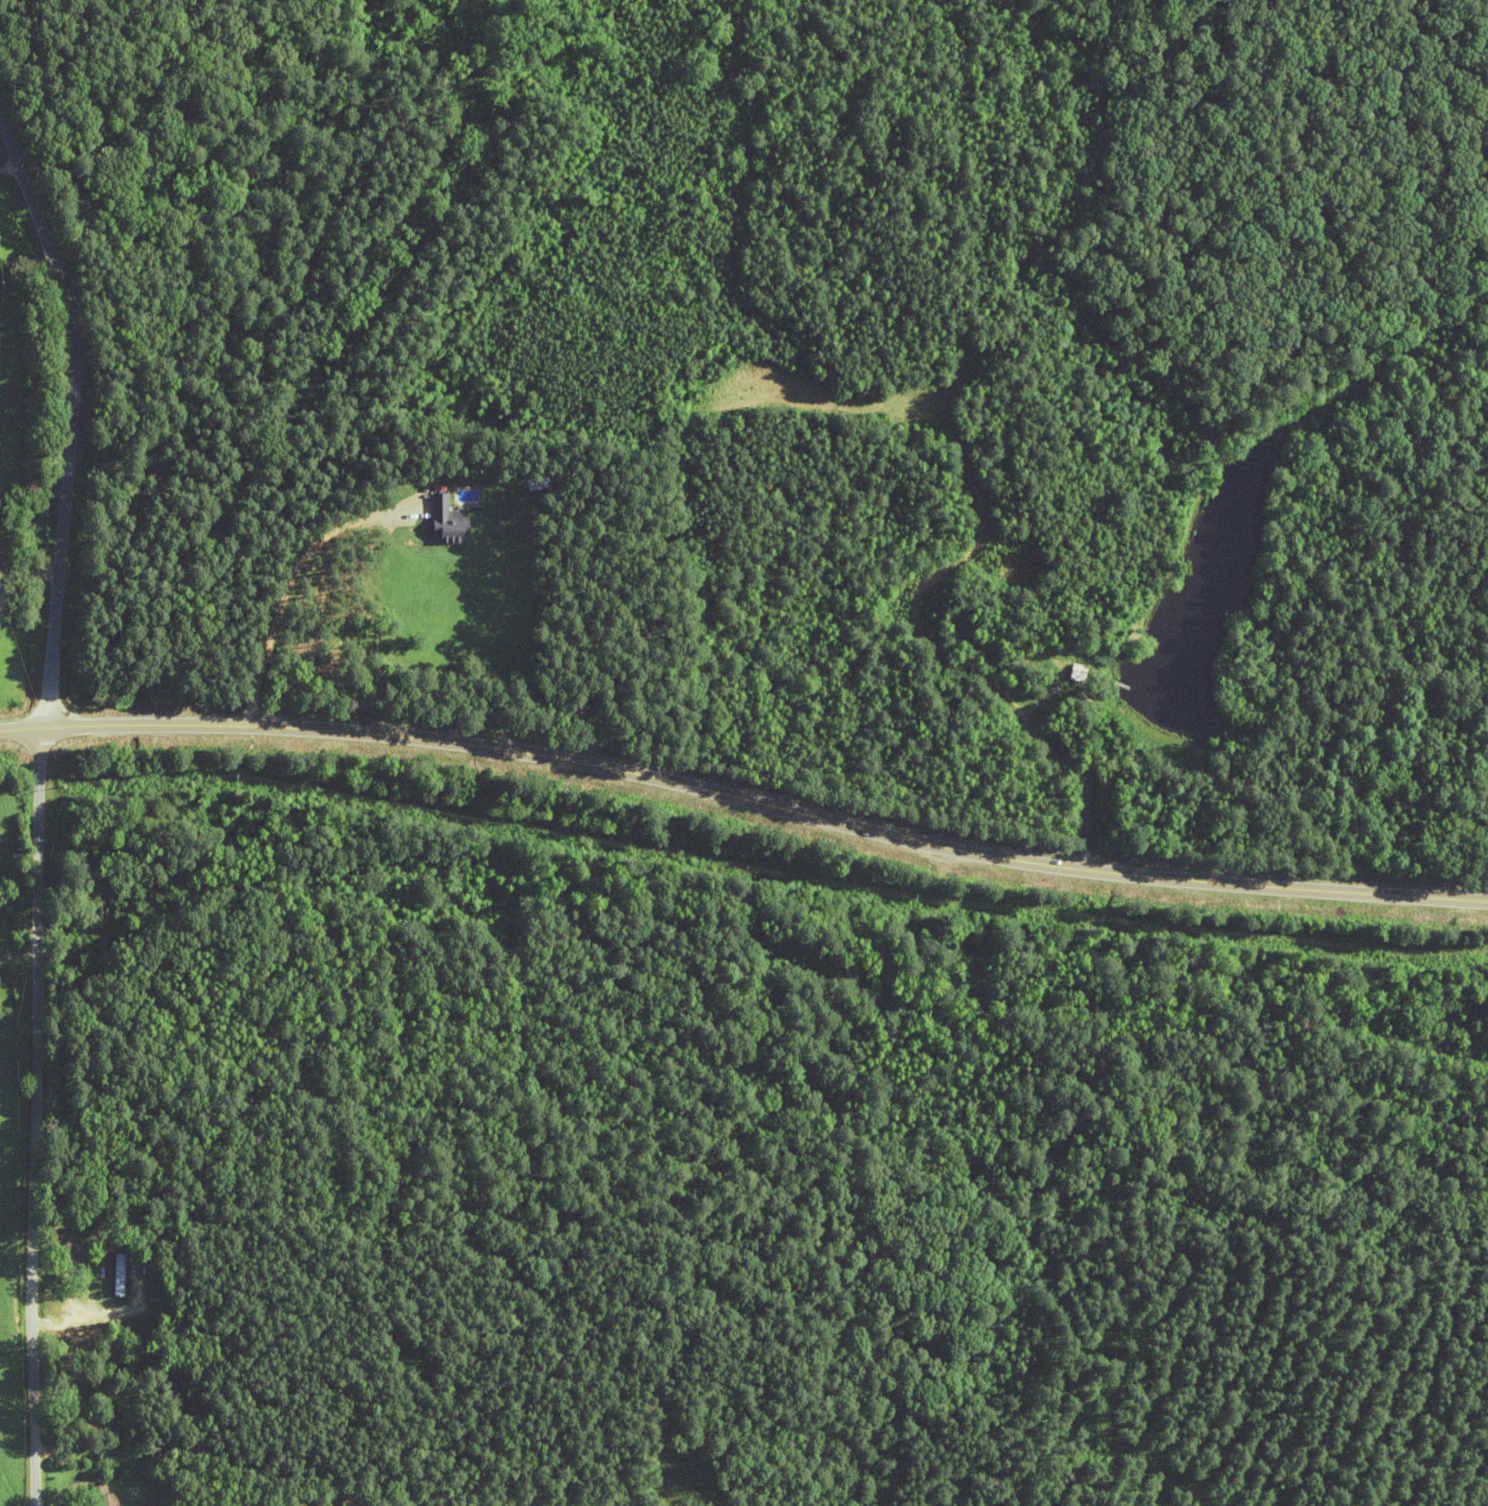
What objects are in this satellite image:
building: (541, 479)
building: (451, 520)
road: (743, 784)
road: (35, 788)
building: (117, 1275)
building: (94, 1421)
building: (105, 1496)

